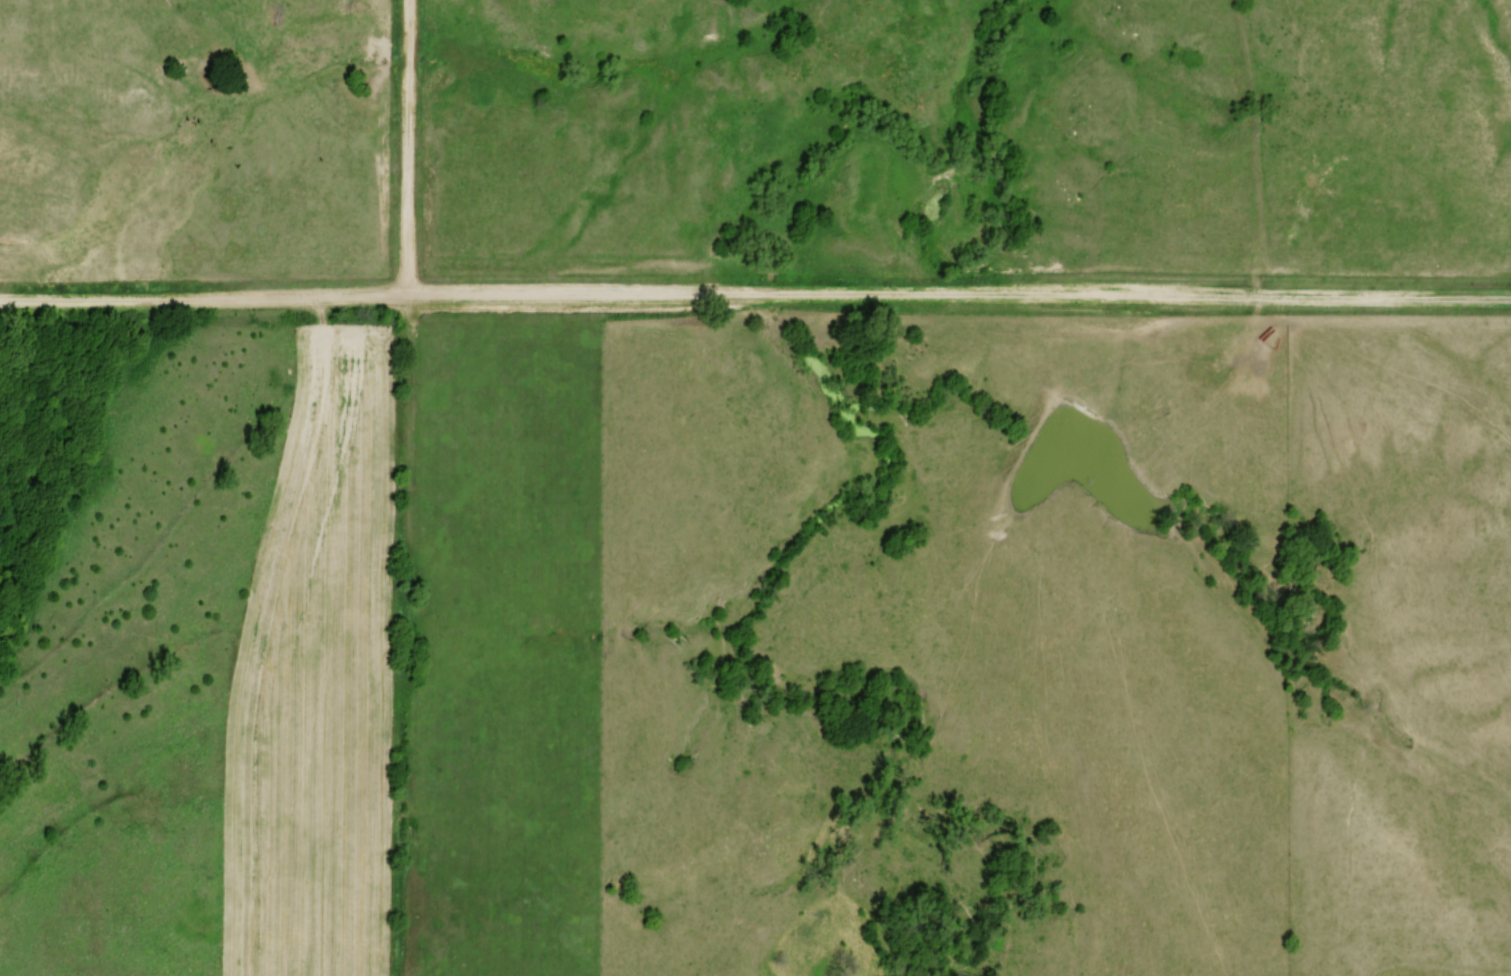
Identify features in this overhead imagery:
road: (410, 148)
road: (755, 296)

